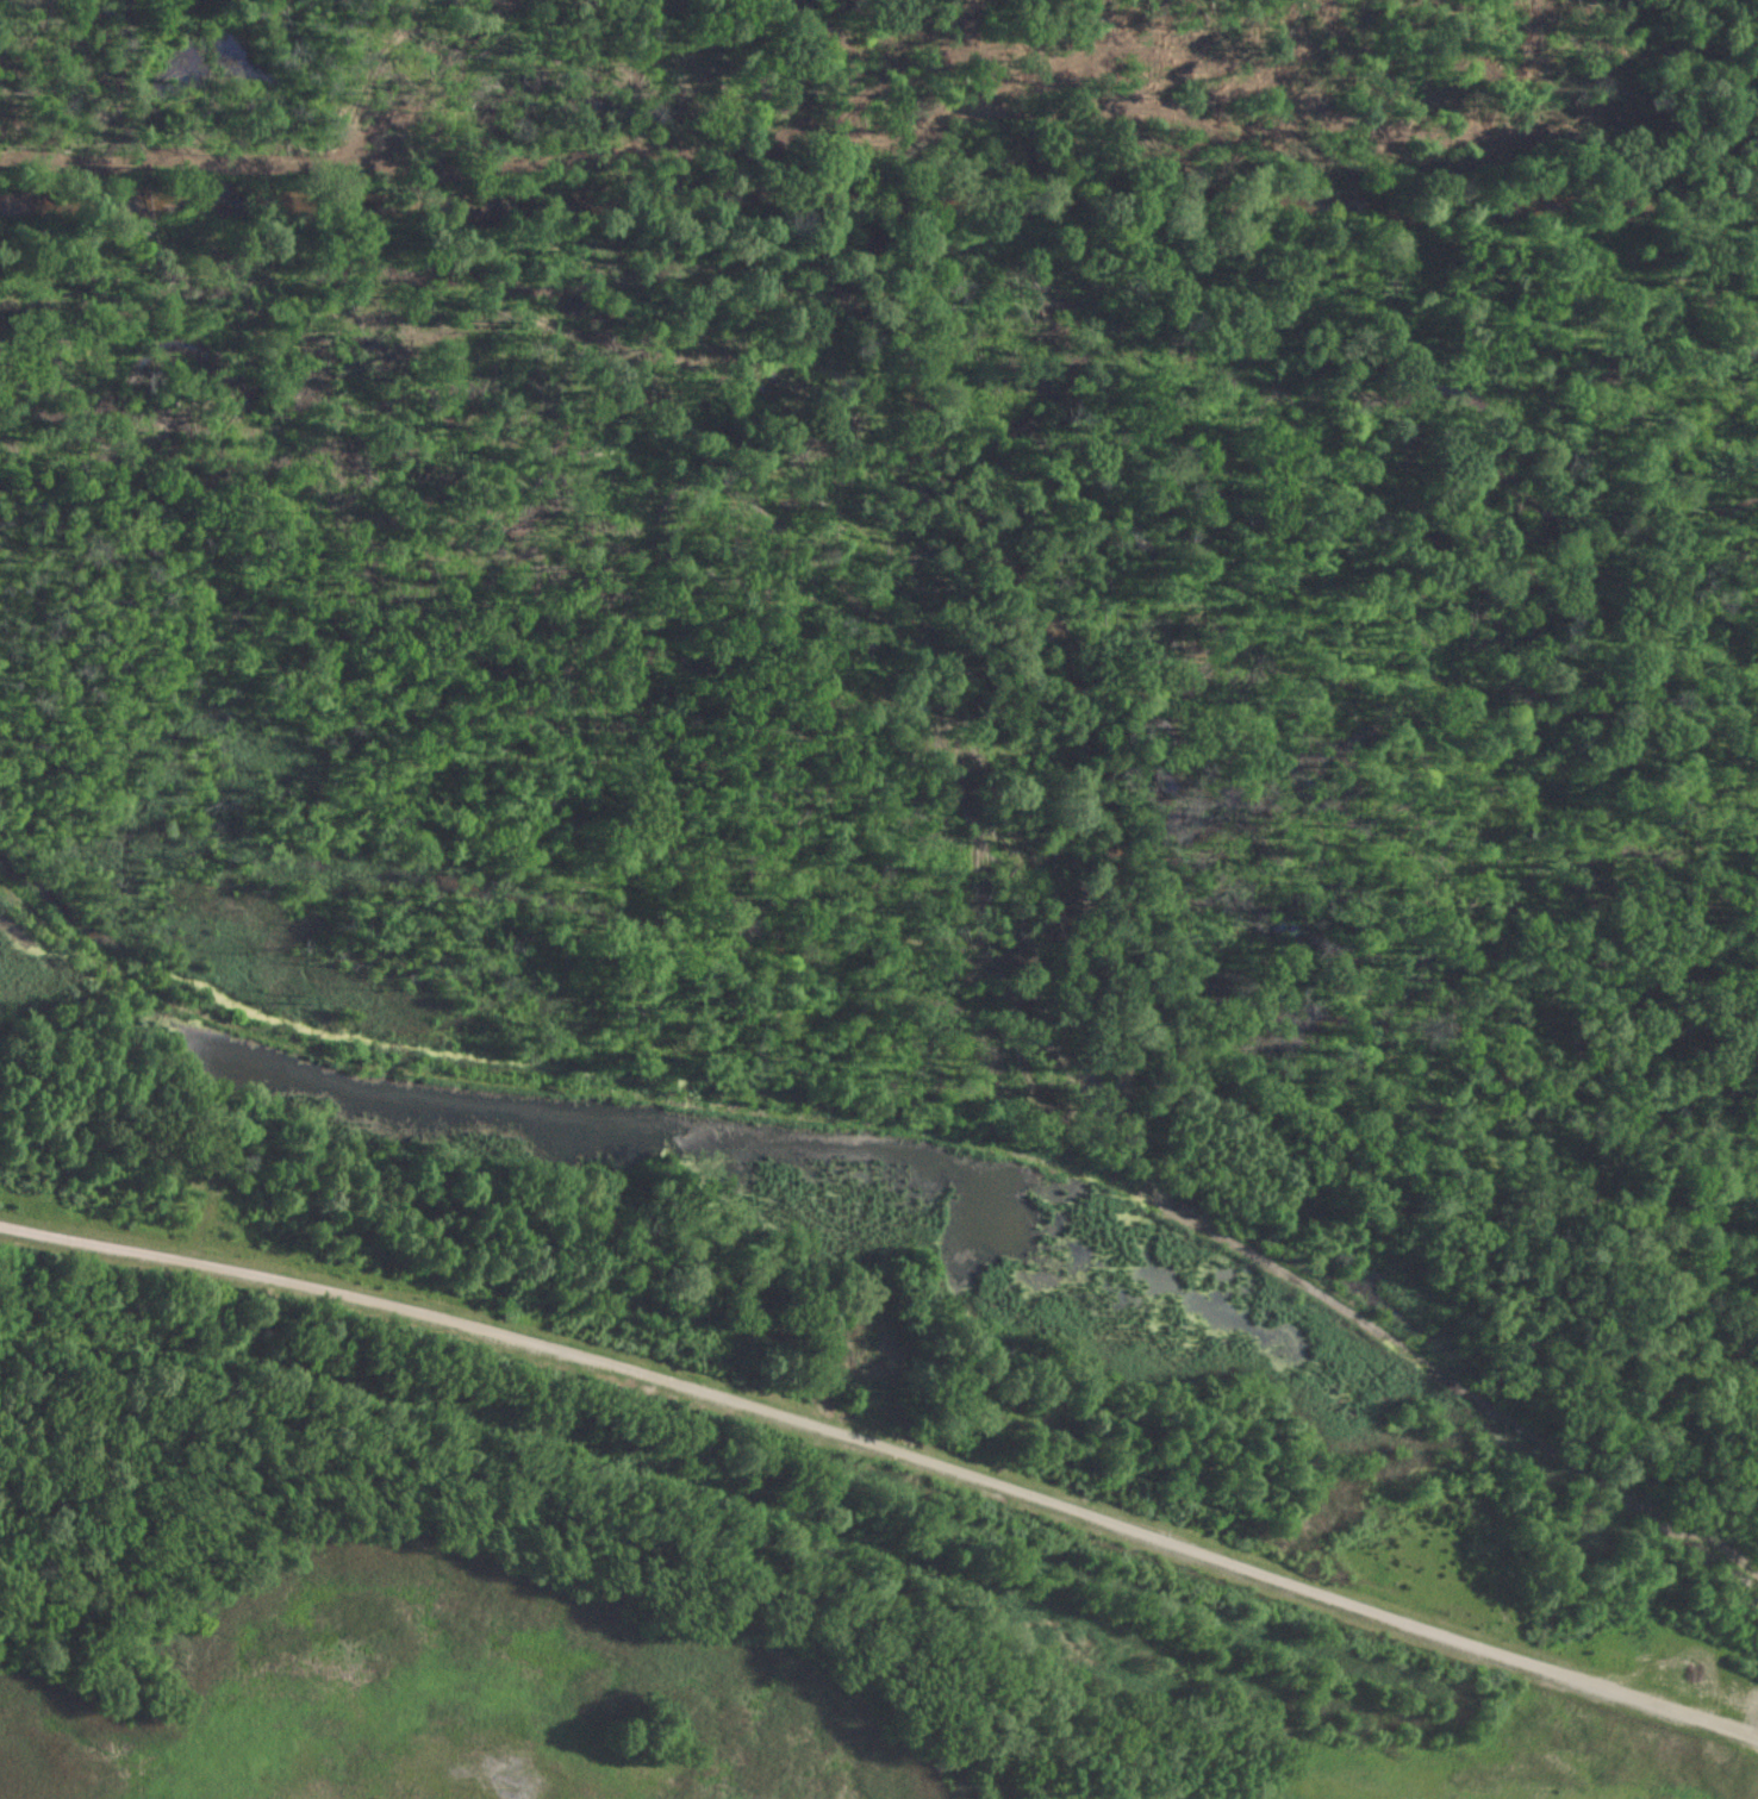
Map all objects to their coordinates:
road: (889, 1445)

